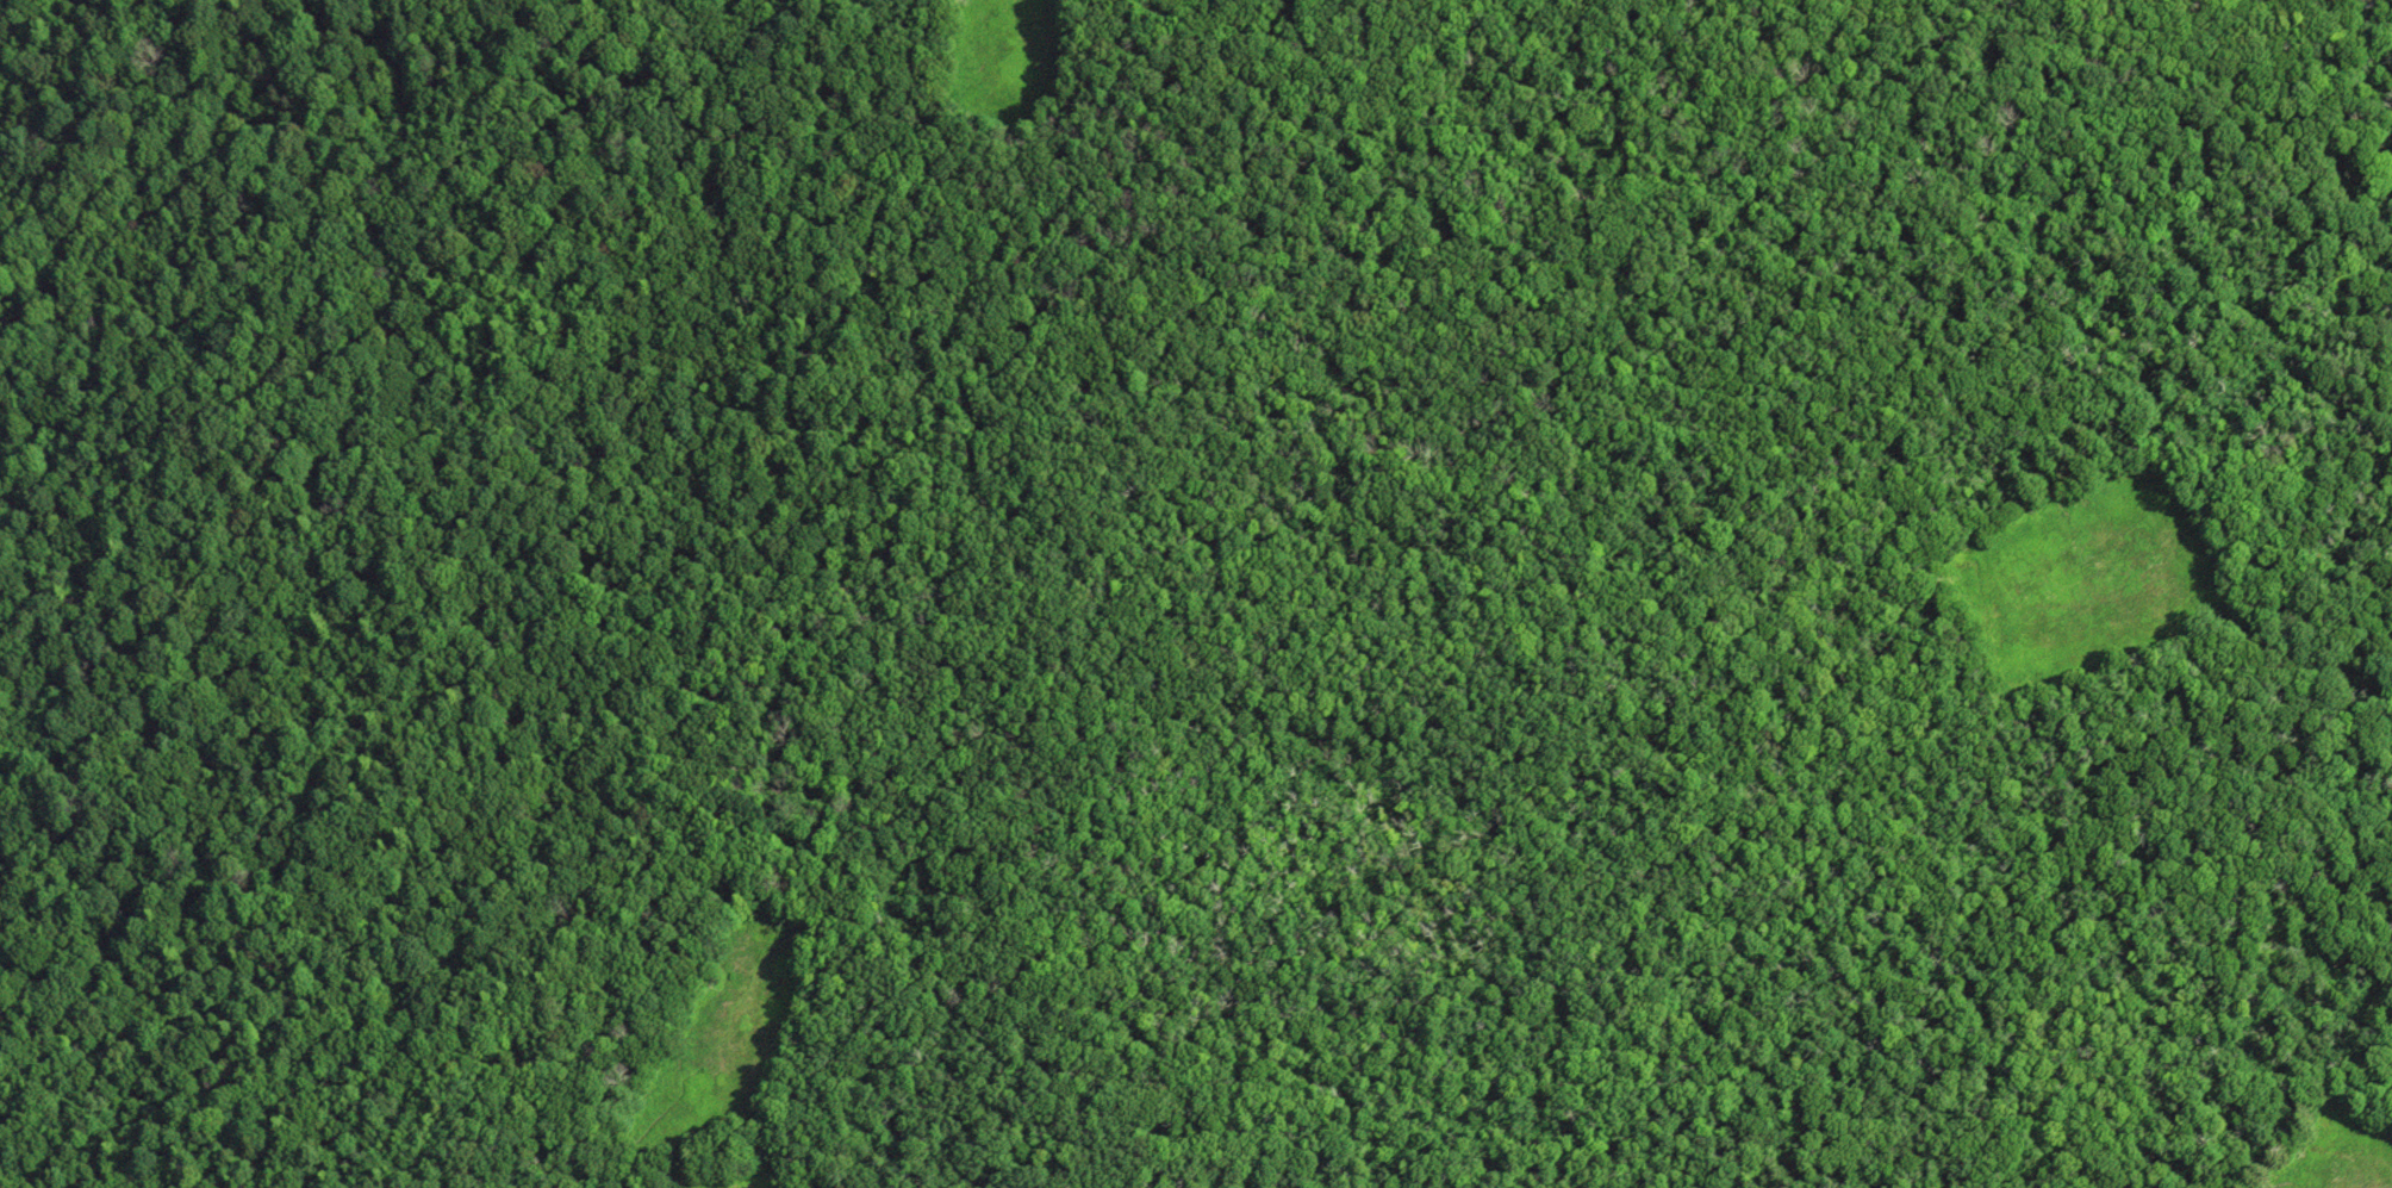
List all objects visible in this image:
road: (868, 732)
road: (2334, 869)

